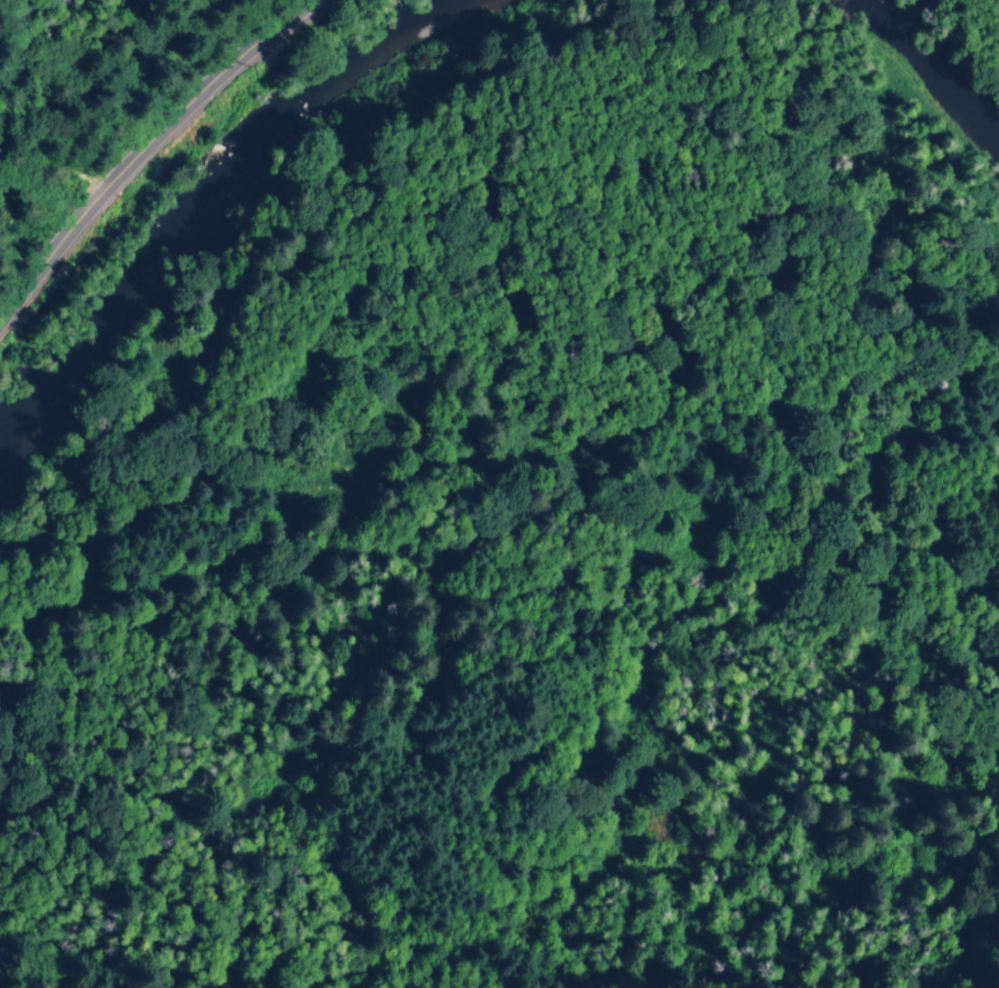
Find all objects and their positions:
river: (924, 54)
road: (141, 149)
river: (186, 195)

